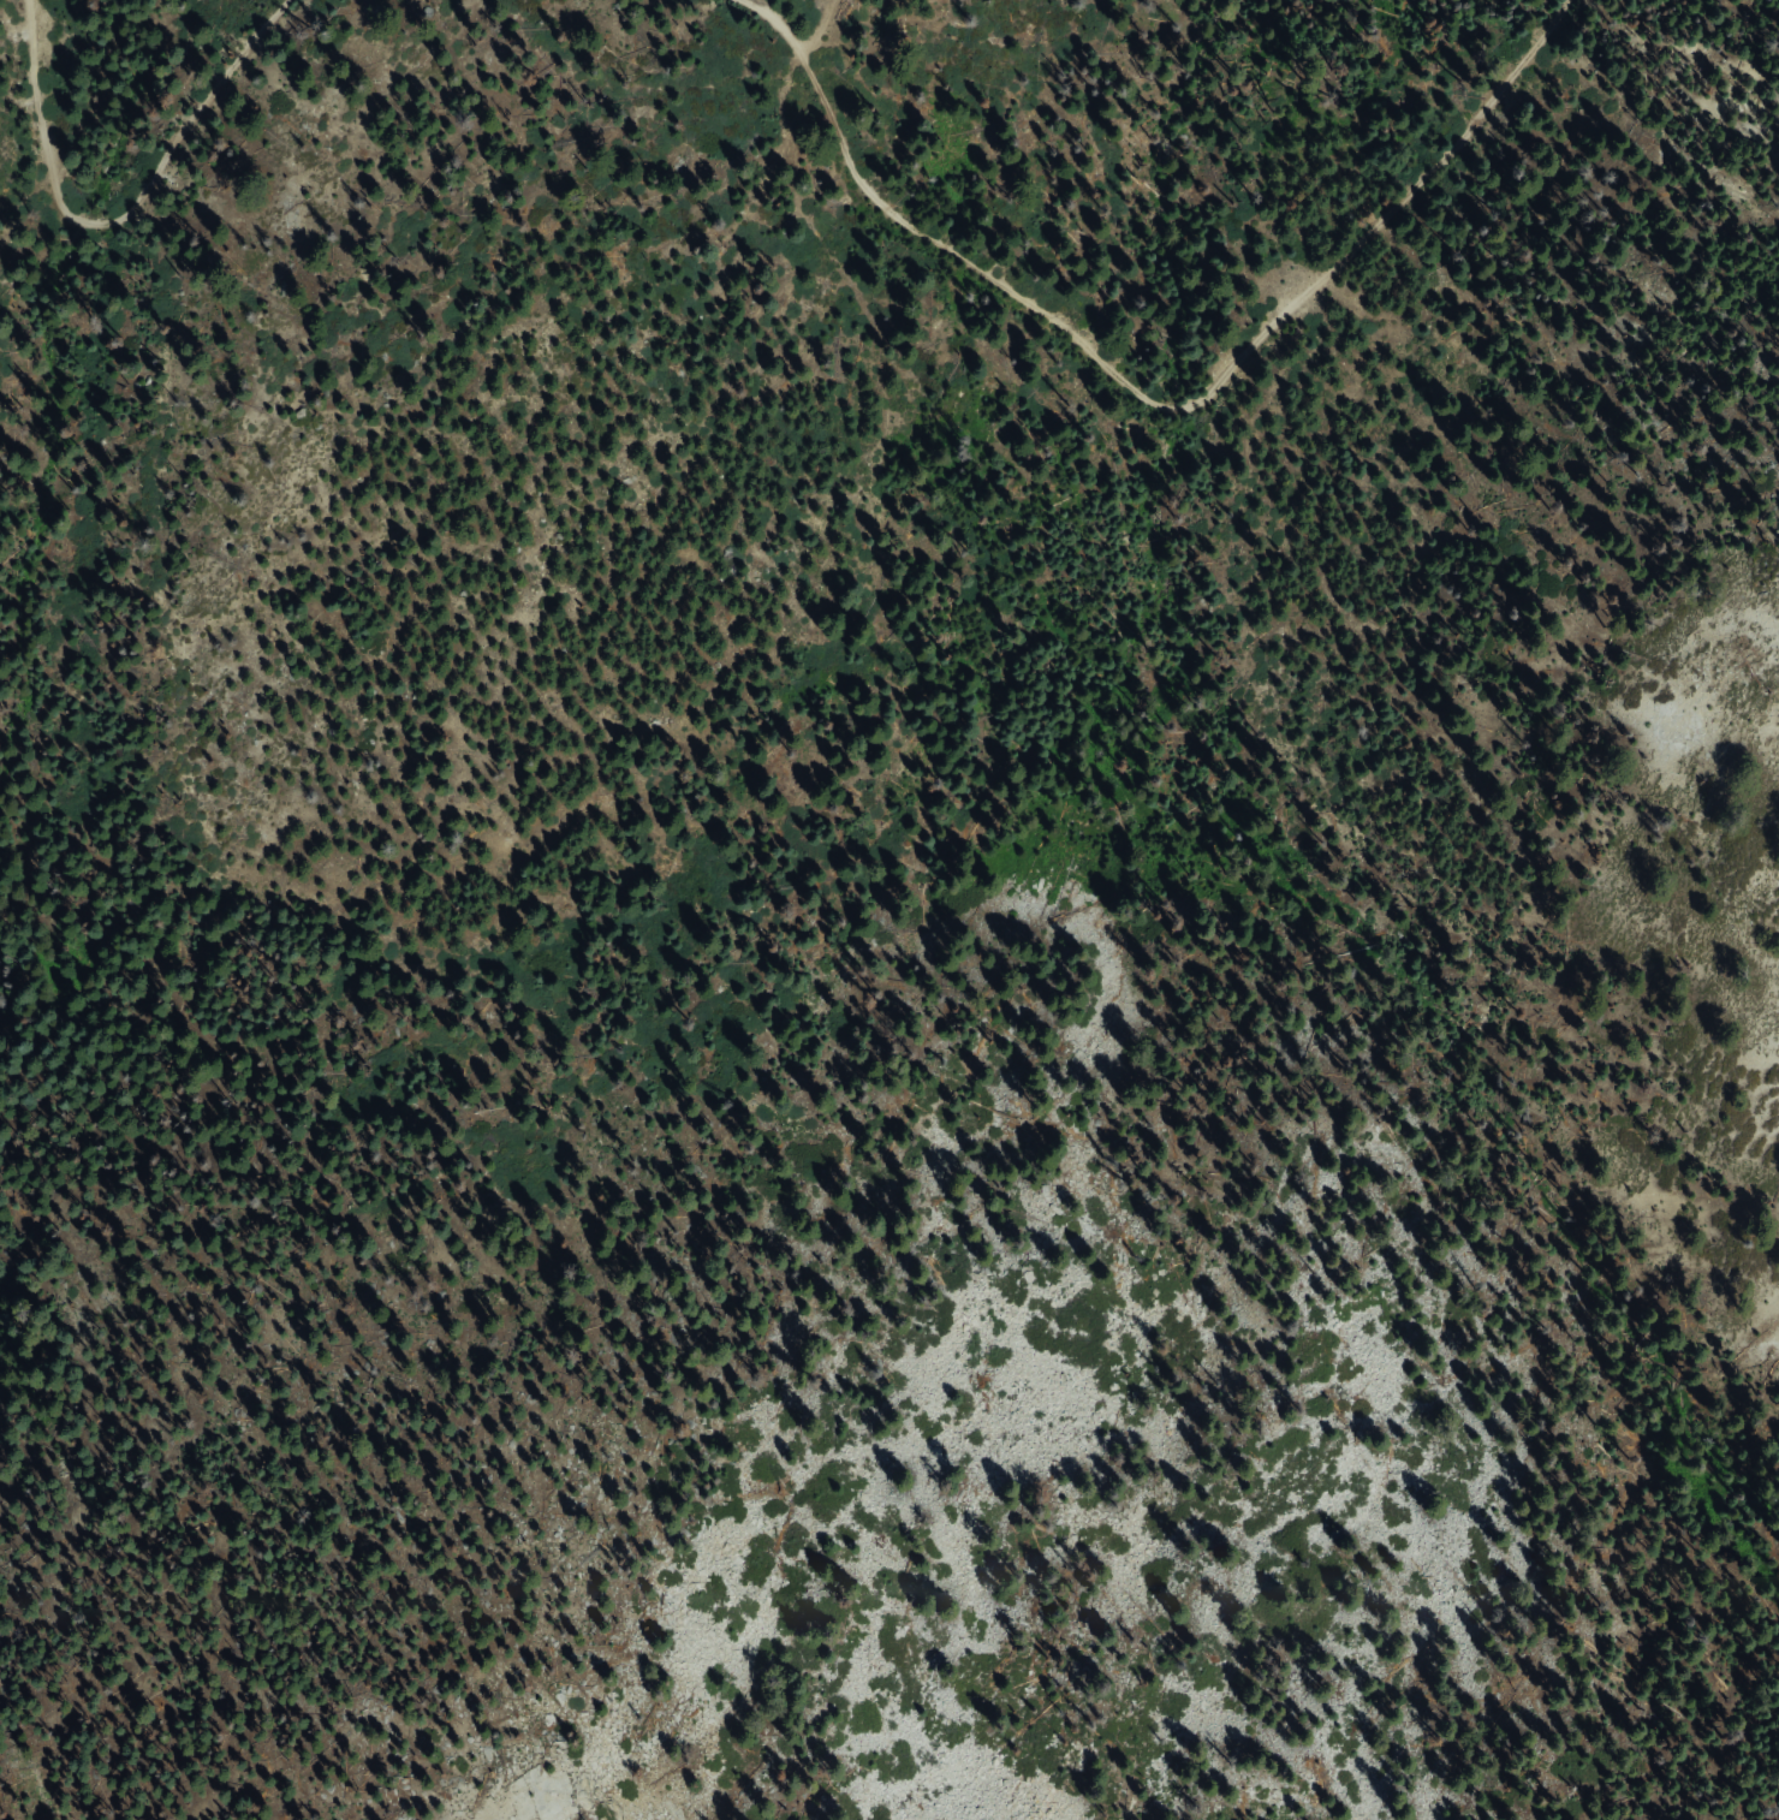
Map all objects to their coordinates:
road: (97, 204)
road: (1107, 391)

